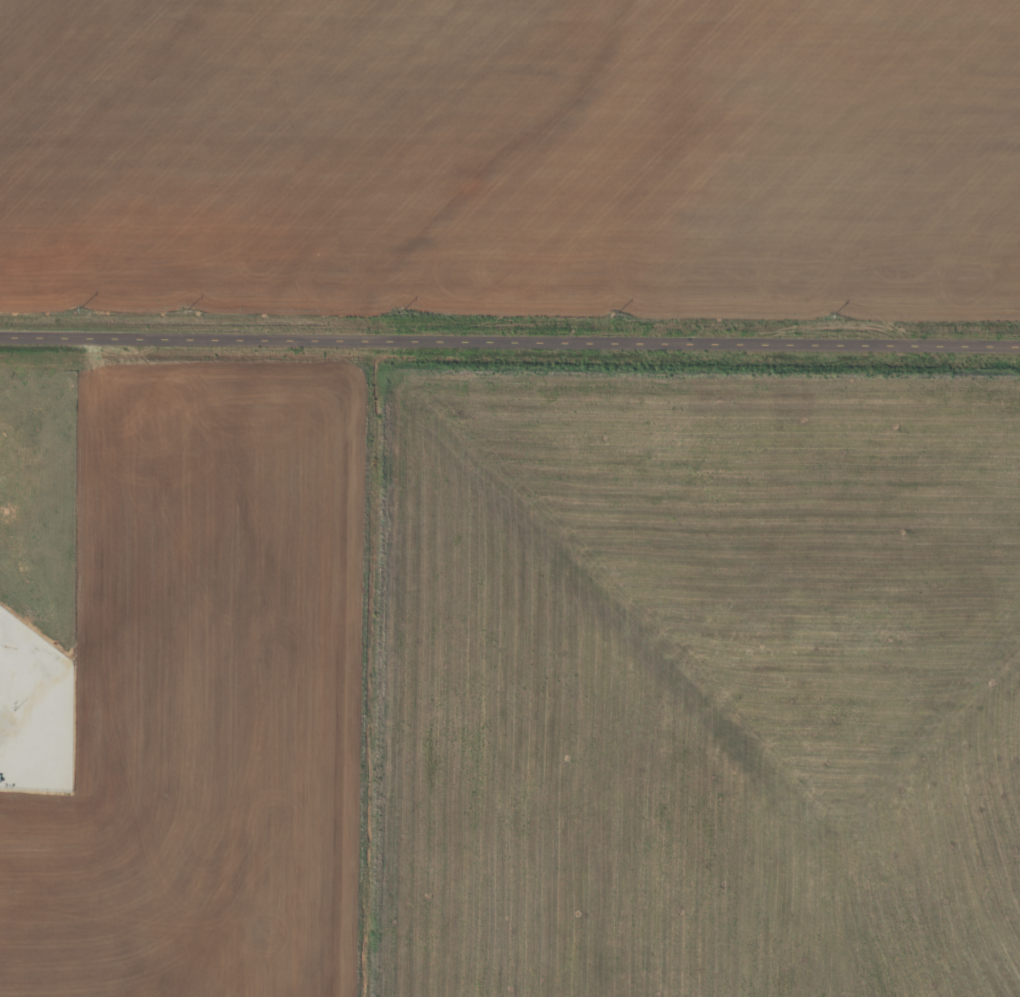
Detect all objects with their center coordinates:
road: (510, 347)

